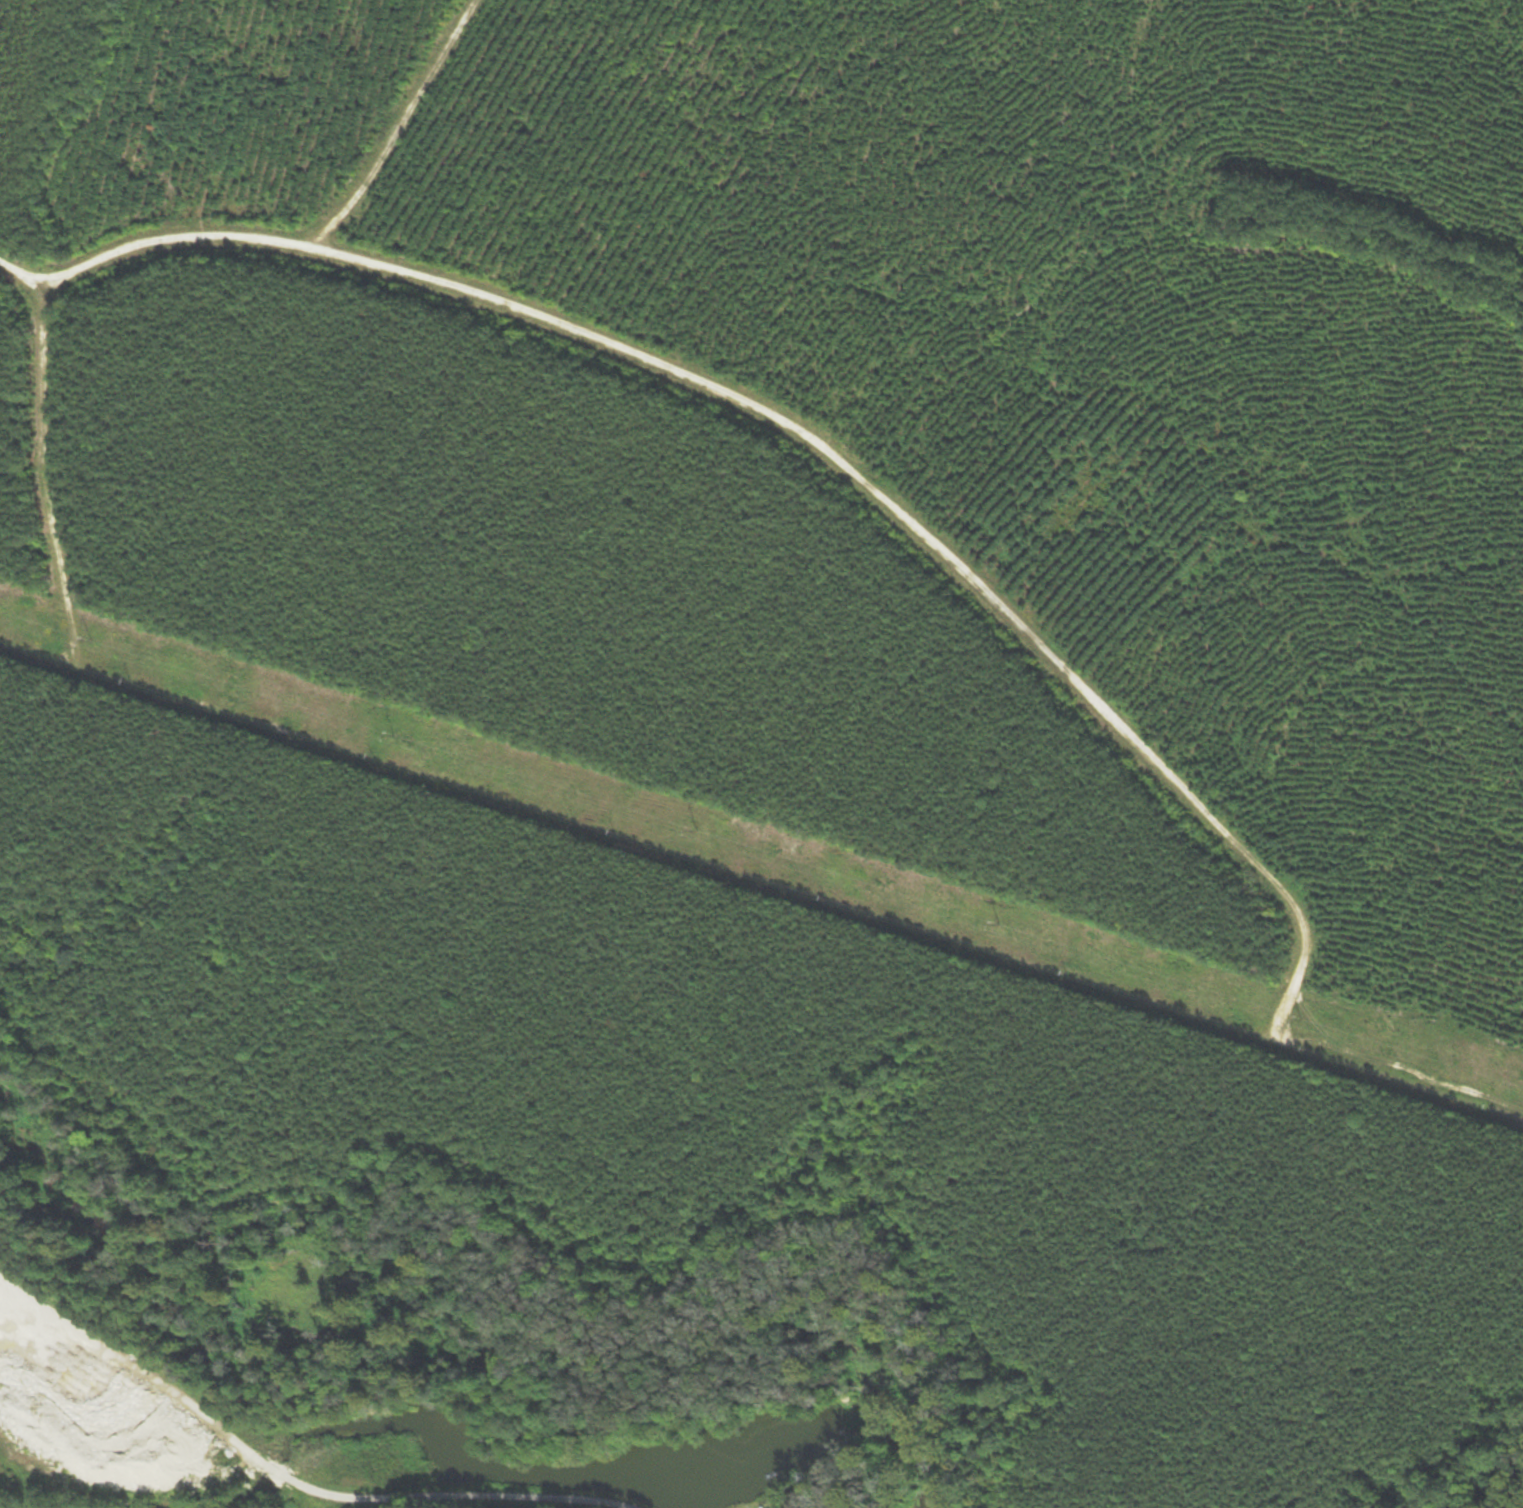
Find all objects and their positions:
road: (720, 377)
road: (35, 1302)

